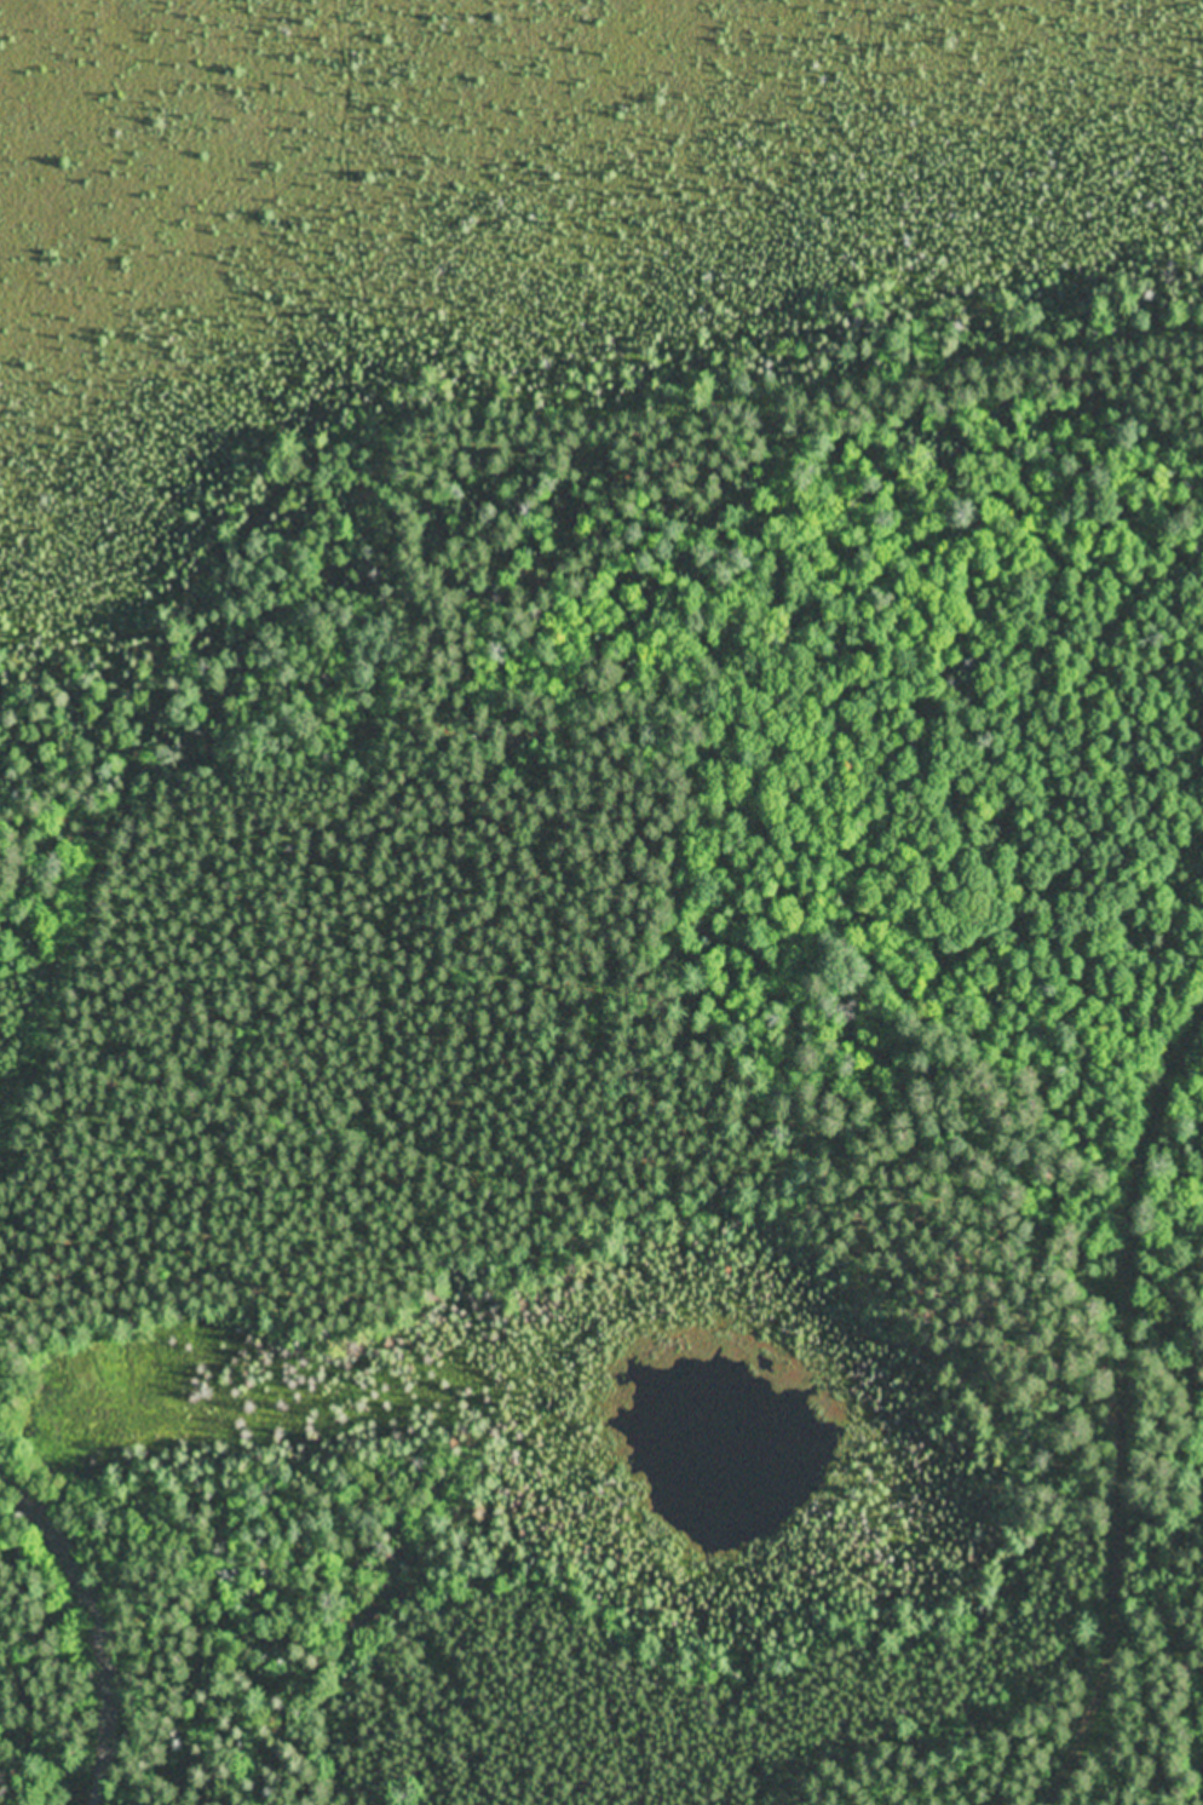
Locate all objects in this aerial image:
road: (108, 1614)

